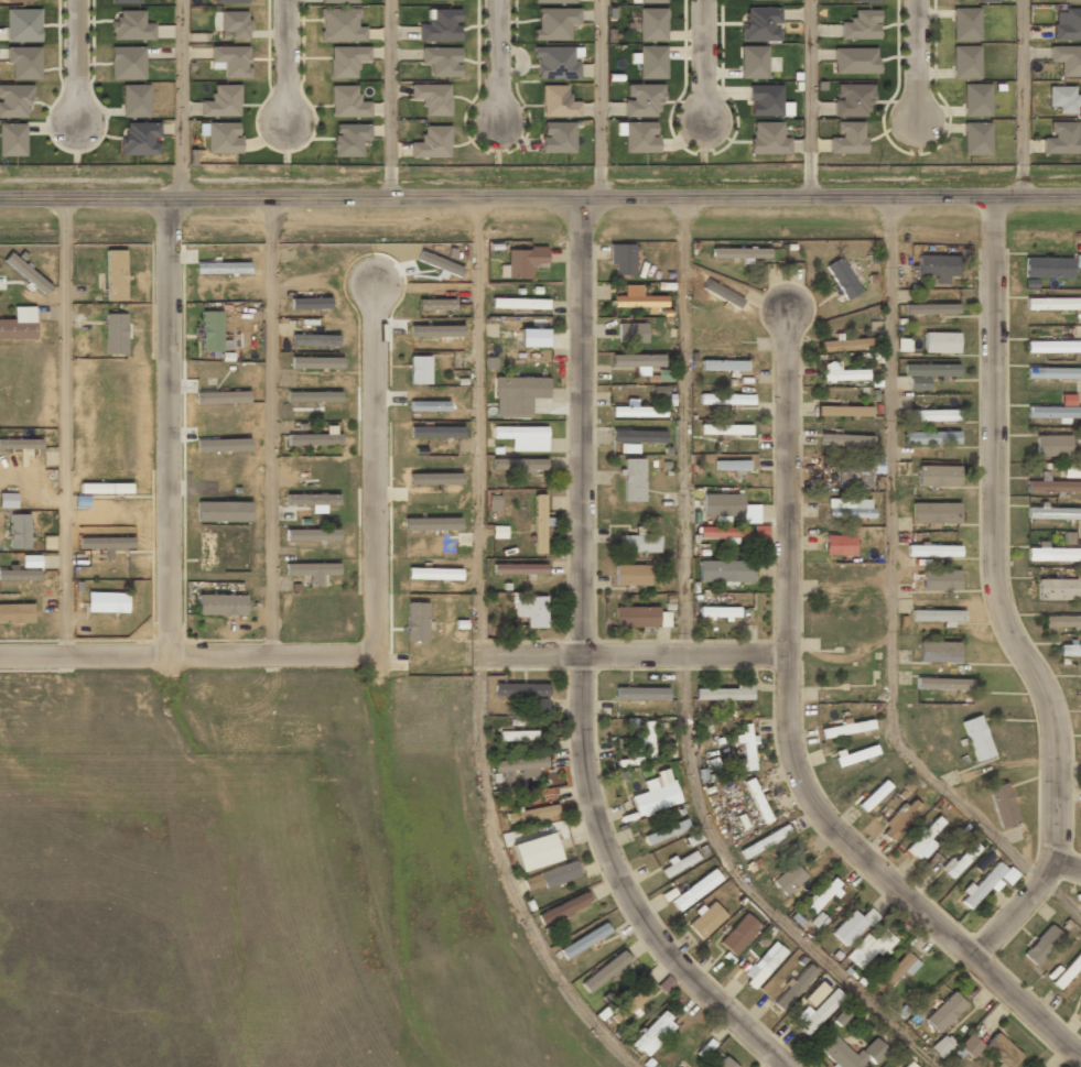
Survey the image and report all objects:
building: (19, 0)
building: (864, 0)
building: (126, 1)
building: (229, 1)
building: (338, 1)
building: (553, 1)
building: (650, 1)
building: (986, 1)
building: (1071, 1)
building: (553, 22)
building: (965, 22)
building: (22, 23)
building: (233, 23)
building: (650, 23)
building: (759, 23)
building: (339, 24)
building: (440, 24)
building: (861, 24)
building: (1068, 24)
building: (130, 25)
road: (919, 56)
building: (230, 58)
building: (1066, 58)
building: (346, 59)
building: (441, 59)
building: (854, 59)
building: (23, 61)
building: (651, 61)
building: (753, 61)
building: (965, 61)
road: (74, 62)
road: (287, 62)
road: (495, 62)
building: (554, 62)
road: (703, 62)
building: (127, 63)
building: (431, 97)
road: (182, 98)
building: (642, 98)
road: (808, 98)
building: (851, 98)
road: (1021, 98)
building: (1061, 98)
building: (220, 99)
road: (388, 99)
road: (598, 99)
building: (763, 99)
building: (975, 99)
building: (14, 100)
building: (134, 100)
building: (347, 101)
building: (556, 101)
building: (219, 137)
building: (556, 137)
building: (639, 137)
building: (139, 138)
building: (348, 138)
building: (766, 138)
building: (847, 138)
building: (975, 138)
building: (1061, 138)
building: (12, 139)
building: (431, 142)
road: (540, 198)
building: (739, 252)
building: (621, 258)
building: (521, 262)
building: (938, 266)
building: (1047, 266)
building: (221, 268)
building: (26, 273)
building: (115, 275)
building: (842, 279)
building: (637, 298)
building: (310, 303)
building: (519, 303)
building: (1051, 303)
building: (435, 304)
building: (931, 308)
building: (19, 324)
building: (210, 330)
building: (631, 333)
building: (115, 334)
building: (725, 334)
building: (314, 339)
building: (520, 342)
building: (941, 342)
building: (846, 344)
building: (902, 345)
building: (1052, 346)
building: (638, 361)
building: (316, 362)
building: (724, 364)
building: (419, 369)
building: (841, 372)
building: (1052, 372)
building: (928, 373)
building: (664, 374)
building: (519, 394)
building: (313, 395)
building: (221, 396)
building: (726, 399)
building: (1068, 400)
building: (429, 406)
building: (637, 410)
building: (844, 411)
building: (1053, 413)
building: (932, 415)
road: (479, 424)
road: (269, 425)
road: (682, 426)
road: (64, 427)
road: (169, 427)
building: (725, 428)
building: (436, 431)
building: (638, 436)
building: (315, 437)
building: (523, 437)
building: (931, 437)
building: (846, 439)
building: (20, 444)
building: (223, 445)
building: (1052, 445)
road: (372, 465)
building: (519, 465)
building: (732, 465)
building: (1069, 470)
building: (938, 476)
building: (853, 477)
building: (435, 478)
building: (634, 480)
building: (1051, 484)
building: (8, 500)
building: (313, 501)
building: (494, 503)
building: (722, 504)
building: (850, 508)
building: (223, 511)
building: (934, 512)
building: (1053, 512)
building: (539, 523)
building: (431, 524)
building: (19, 531)
building: (760, 531)
building: (499, 532)
building: (722, 532)
building: (312, 534)
building: (639, 542)
building: (106, 543)
building: (839, 545)
building: (932, 551)
building: (1052, 553)
road: (893, 567)
building: (519, 568)
building: (23, 569)
building: (725, 570)
building: (312, 571)
building: (433, 574)
building: (631, 575)
building: (941, 579)
building: (1056, 589)
road: (996, 598)
building: (107, 602)
building: (221, 605)
building: (718, 611)
building: (15, 612)
building: (938, 616)
building: (636, 617)
building: (663, 619)
building: (417, 621)
building: (1062, 621)
building: (1070, 650)
building: (938, 651)
road: (530, 652)
road: (684, 654)
road: (186, 656)
road: (582, 666)
building: (943, 684)
building: (1080, 684)
building: (640, 693)
building: (725, 693)
building: (848, 728)
building: (517, 734)
building: (976, 738)
building: (645, 739)
road: (788, 743)
building: (747, 748)
building: (855, 754)
building: (522, 765)
road: (1068, 770)
building: (656, 794)
building: (874, 795)
building: (757, 801)
building: (1002, 805)
building: (533, 814)
building: (900, 819)
building: (666, 831)
building: (925, 839)
building: (765, 841)
building: (536, 851)
building: (959, 860)
building: (680, 862)
road: (1066, 867)
building: (560, 873)
building: (1008, 875)
road: (506, 877)
building: (789, 879)
building: (982, 885)
building: (695, 890)
road: (752, 890)
road: (1060, 899)
building: (563, 907)
building: (706, 919)
building: (818, 921)
building: (853, 926)
building: (738, 934)
building: (584, 940)
building: (1042, 945)
building: (868, 949)
building: (765, 962)
building: (1068, 970)
building: (605, 972)
building: (666, 984)
building: (794, 987)
building: (815, 993)
building: (629, 1005)
building: (815, 1012)
building: (944, 1012)
building: (841, 1016)
building: (653, 1034)
building: (942, 1045)
building: (970, 1045)
building: (999, 1052)
building: (852, 1053)
building: (725, 1063)
building: (908, 1064)

